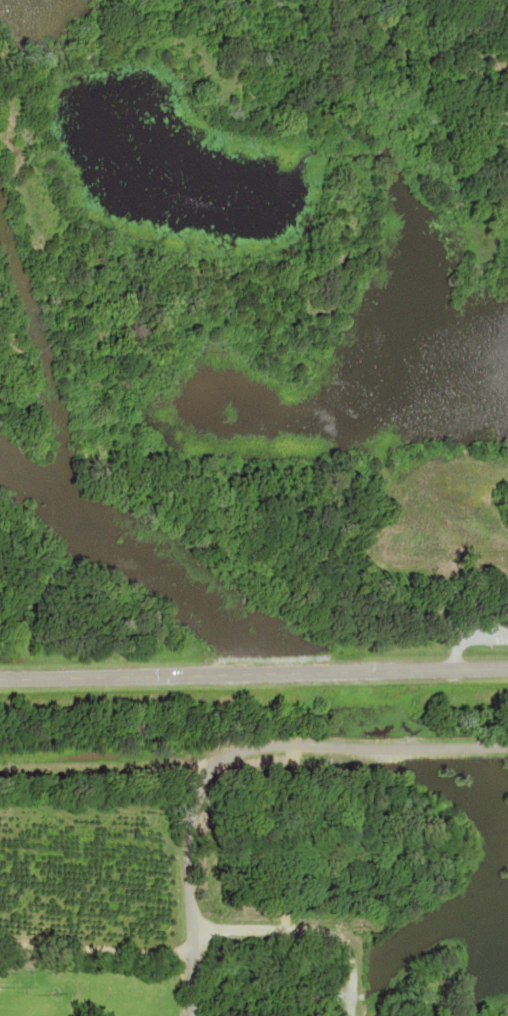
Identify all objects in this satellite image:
road: (254, 674)
road: (231, 754)
road: (310, 929)
road: (97, 949)

